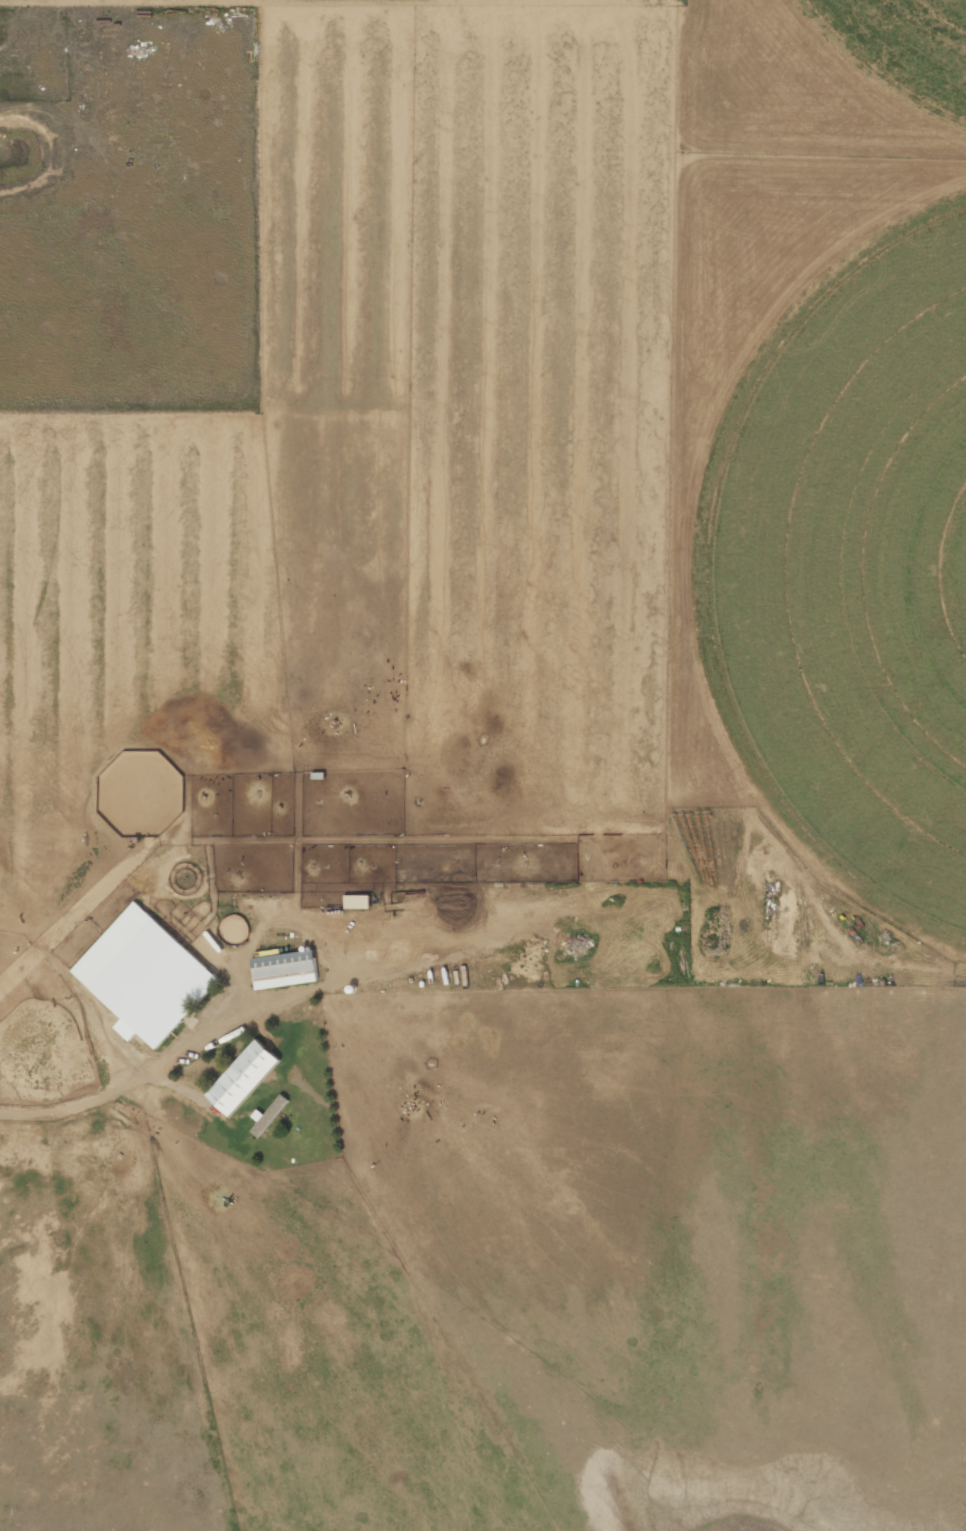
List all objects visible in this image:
crop: (904, 45)
crop: (852, 569)
building: (358, 902)
building: (285, 970)
building: (145, 977)
road: (145, 1074)
building: (244, 1078)
building: (269, 1116)

